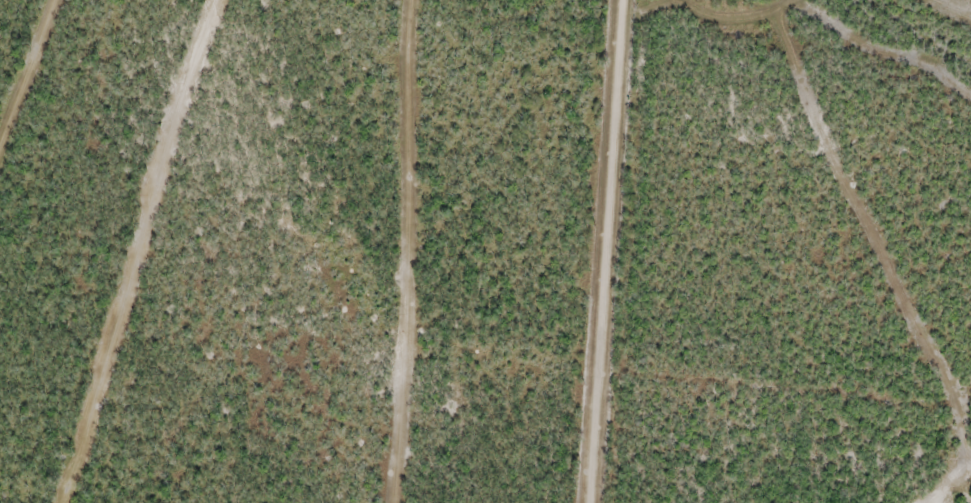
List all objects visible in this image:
road: (625, 251)

